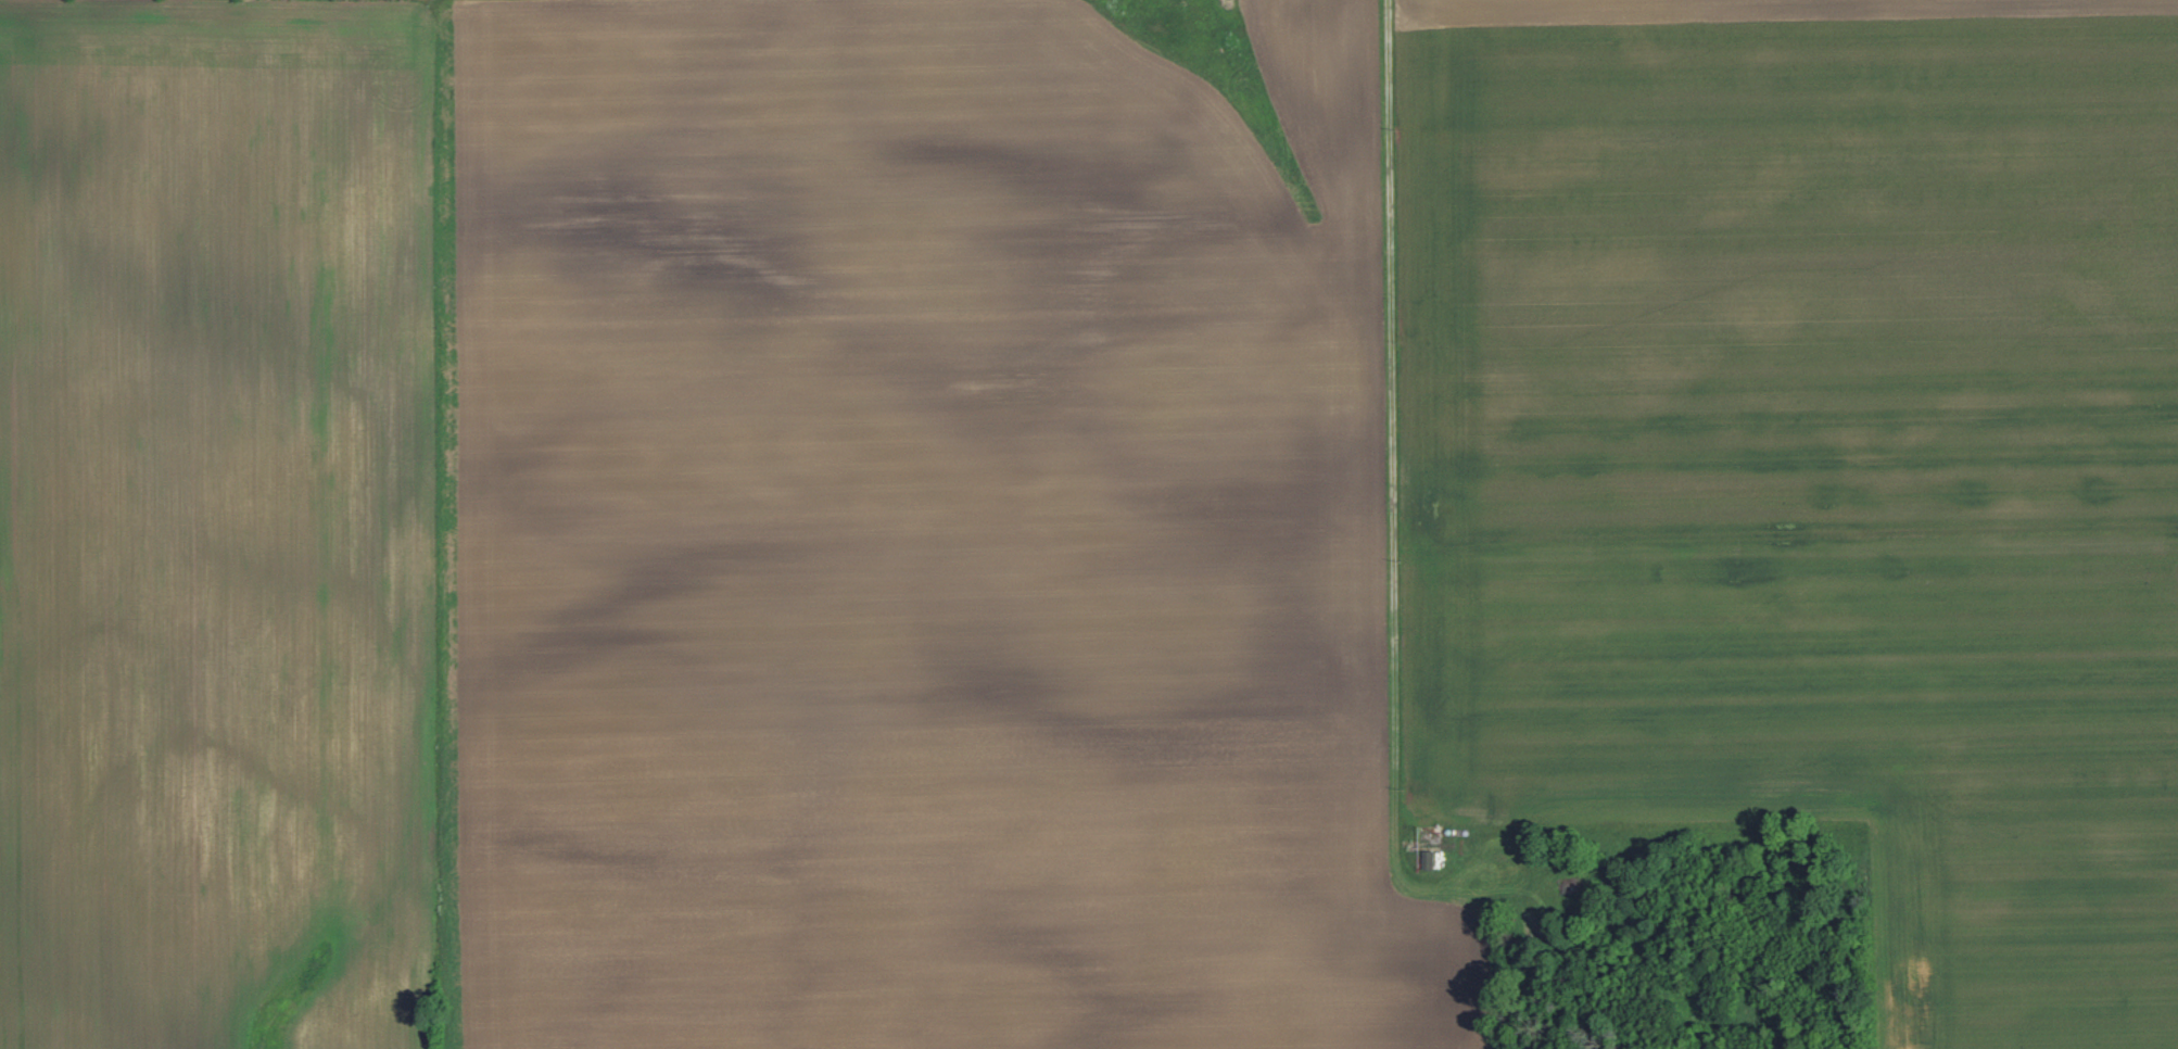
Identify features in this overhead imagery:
road: (1398, 378)

